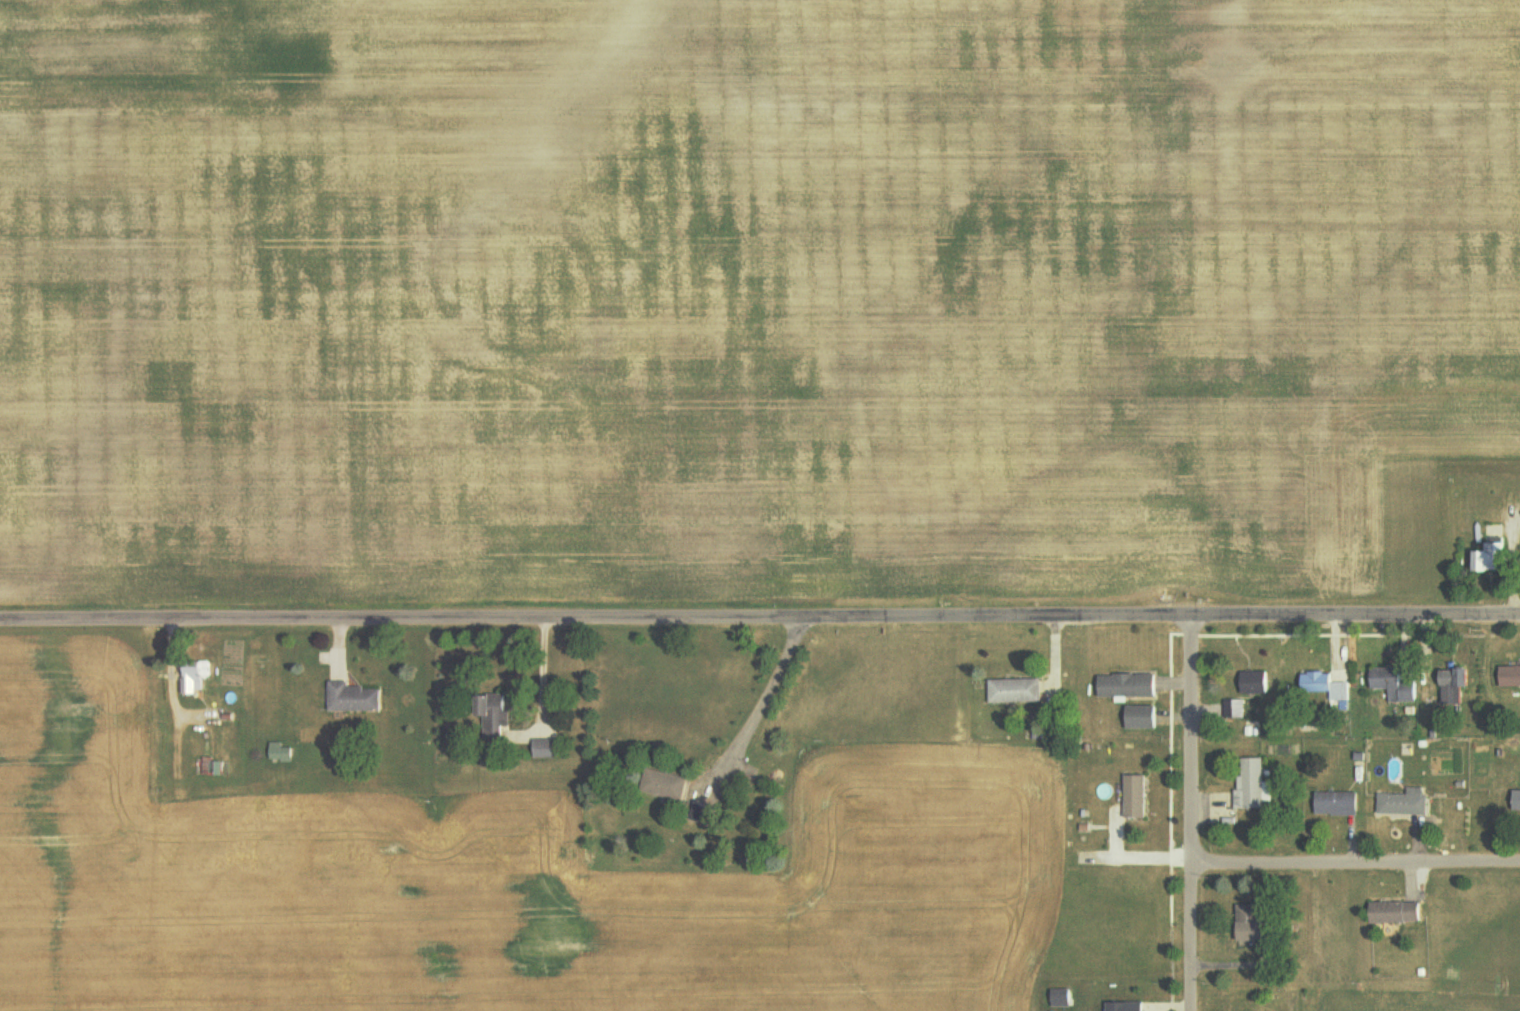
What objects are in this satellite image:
crop: (742, 294)
building: (1492, 558)
road: (1155, 618)
road: (395, 619)
building: (196, 676)
building: (1510, 676)
building: (1255, 683)
building: (1394, 684)
building: (1127, 685)
building: (1455, 685)
building: (1015, 691)
building: (354, 698)
building: (1233, 708)
building: (1141, 717)
building: (545, 747)
building: (1249, 784)
building: (666, 785)
building: (1135, 796)
building: (1518, 801)
building: (1404, 802)
building: (1337, 803)
building: (700, 813)
road: (1191, 814)
road: (1116, 832)
road: (1135, 857)
road: (1356, 859)
crop: (487, 883)
building: (1396, 912)
building: (1254, 926)
building: (1062, 998)
building: (1126, 1006)

